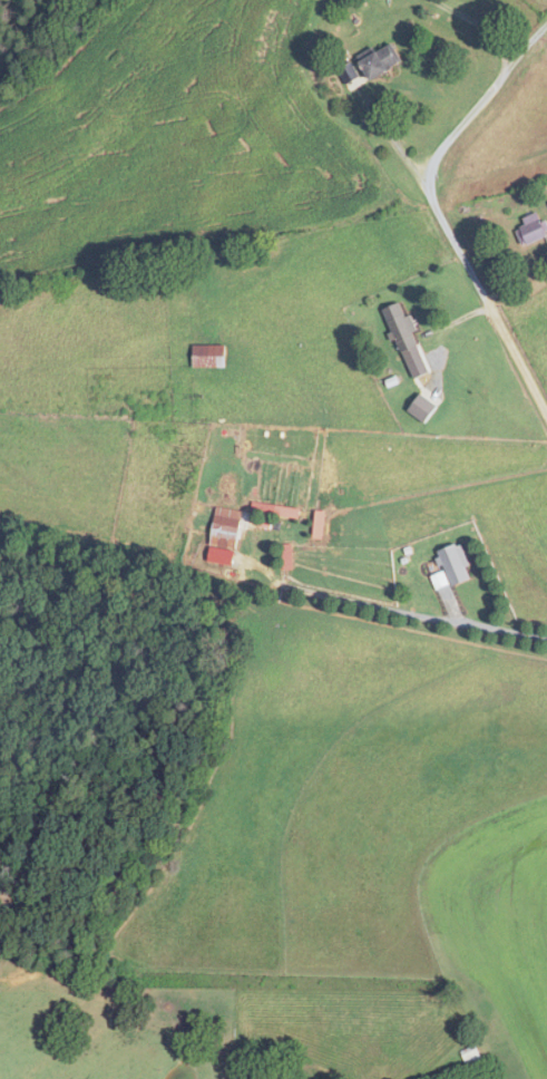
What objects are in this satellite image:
road: (479, 23)
building: (381, 62)
road: (479, 99)
road: (392, 138)
building: (533, 229)
road: (486, 301)
building: (401, 325)
building: (208, 356)
building: (286, 518)
building: (226, 528)
building: (456, 564)
road: (486, 625)
building: (473, 1058)

